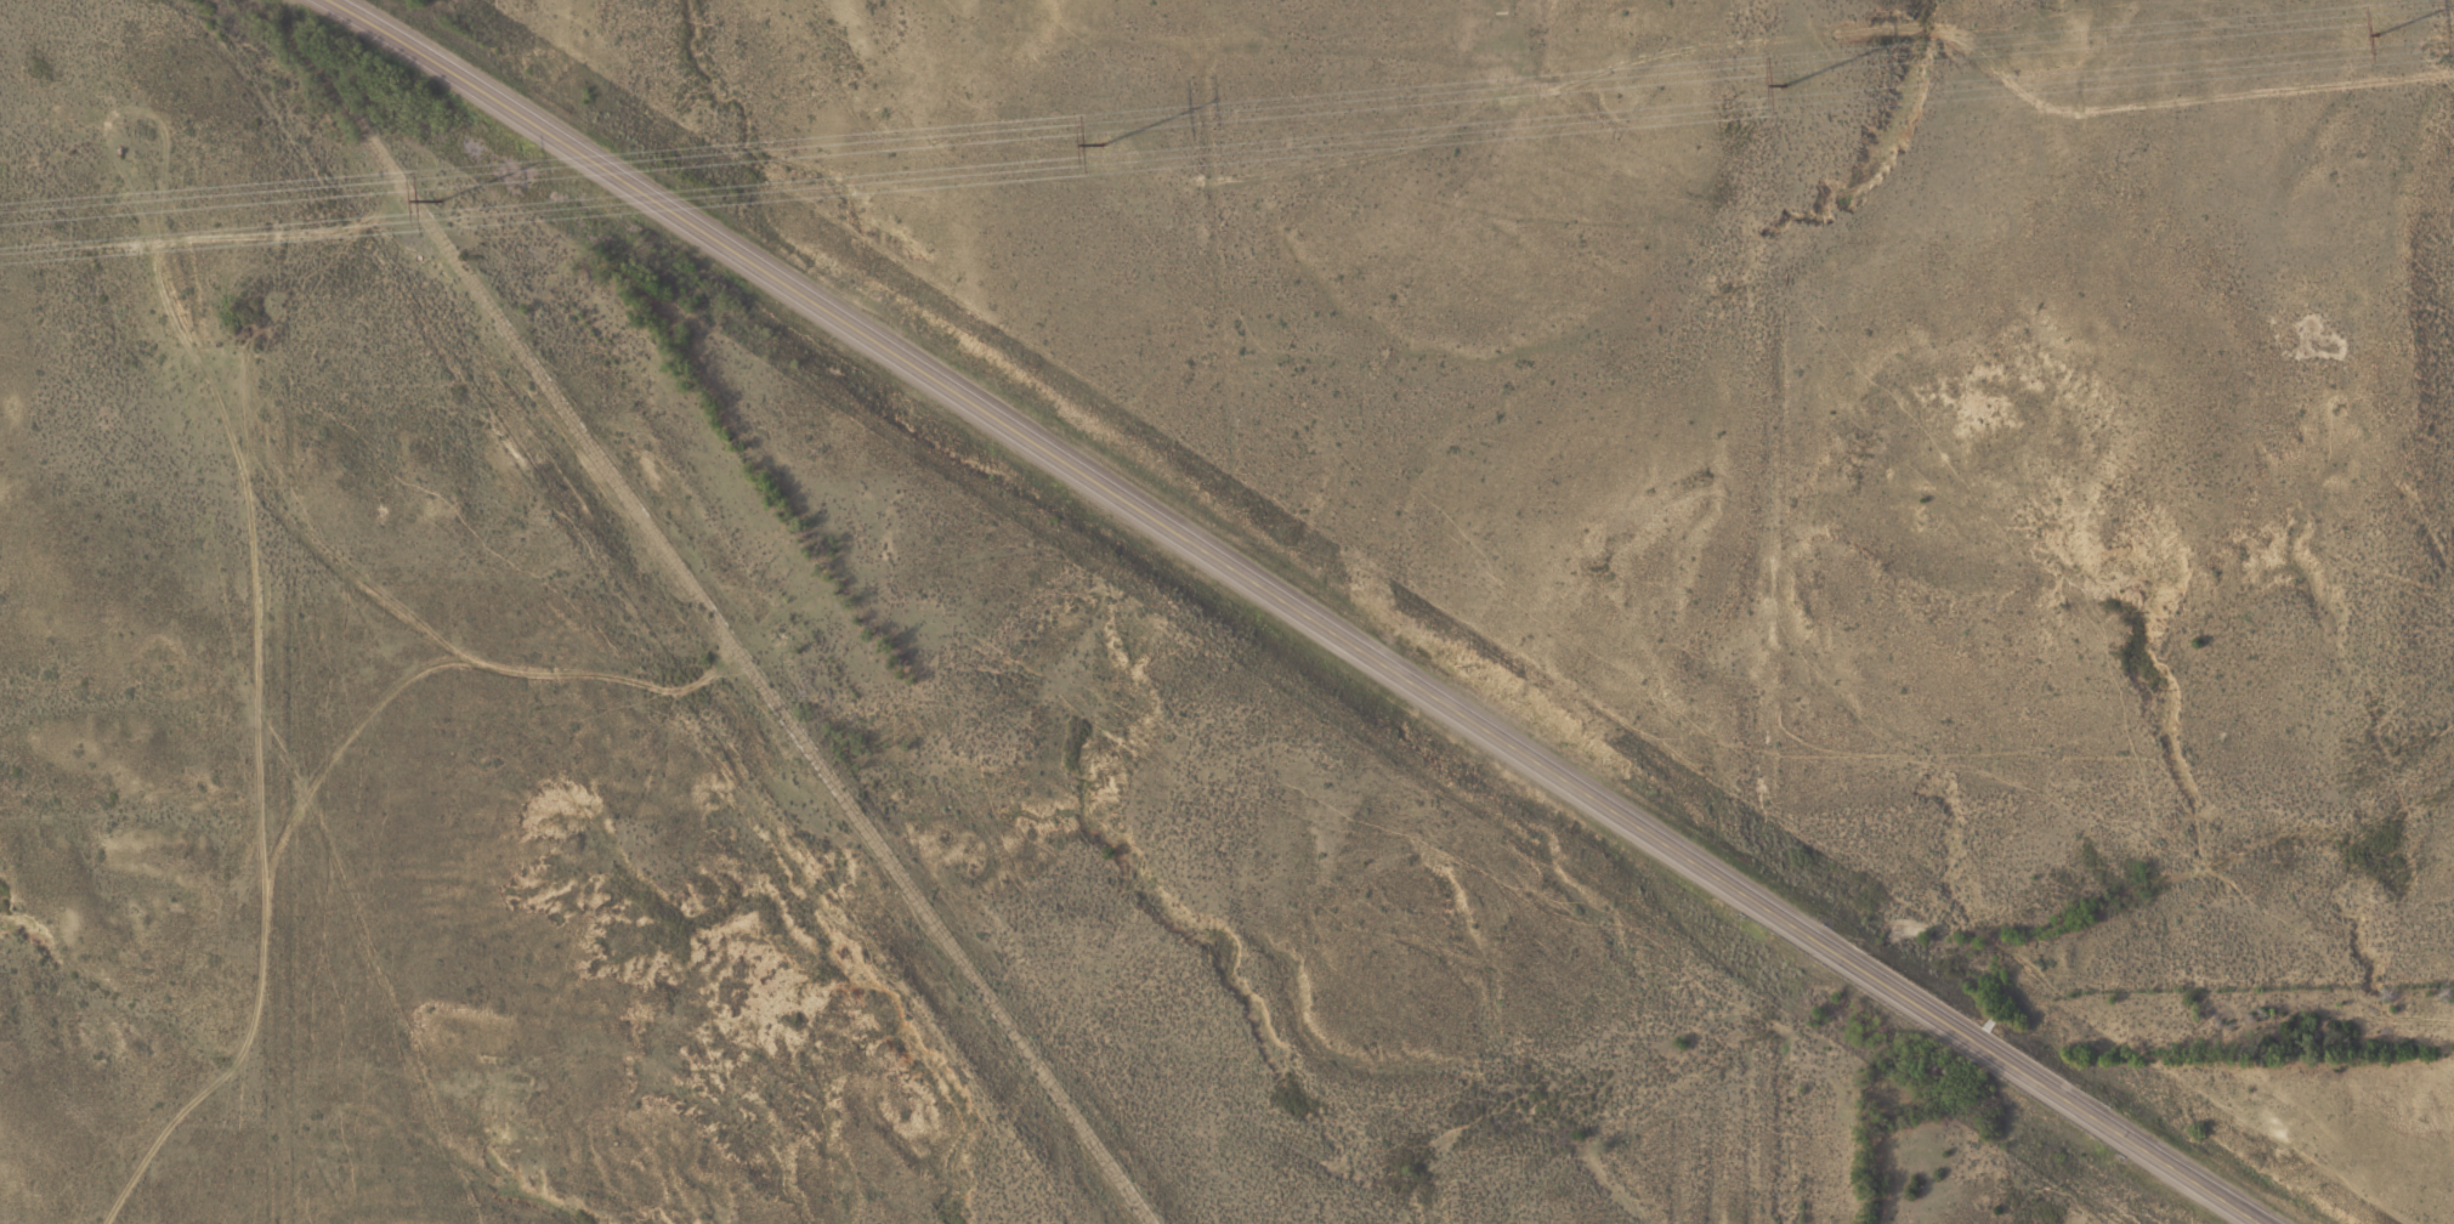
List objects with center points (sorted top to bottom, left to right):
power tower: (2378, 32)
power tower: (1785, 83)
power tower: (1101, 143)
power tower: (440, 199)
road: (1299, 613)
road: (429, 690)
road: (307, 952)

